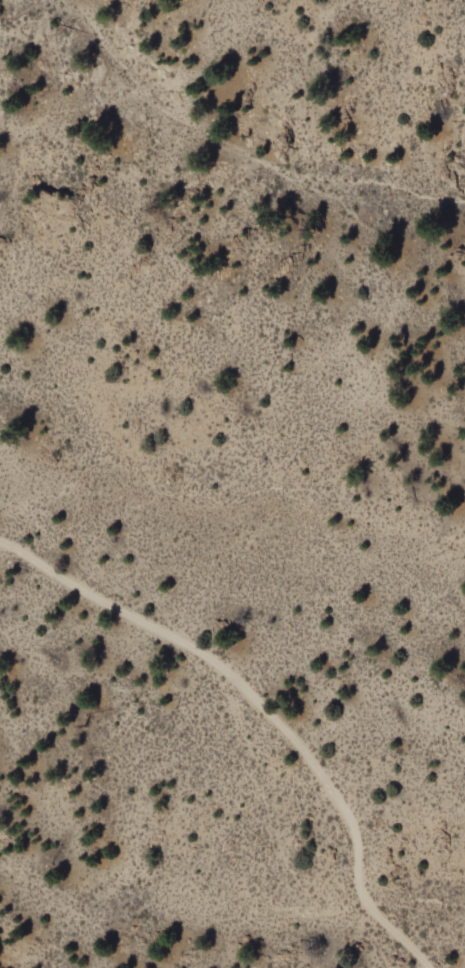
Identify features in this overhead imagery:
road: (264, 711)

